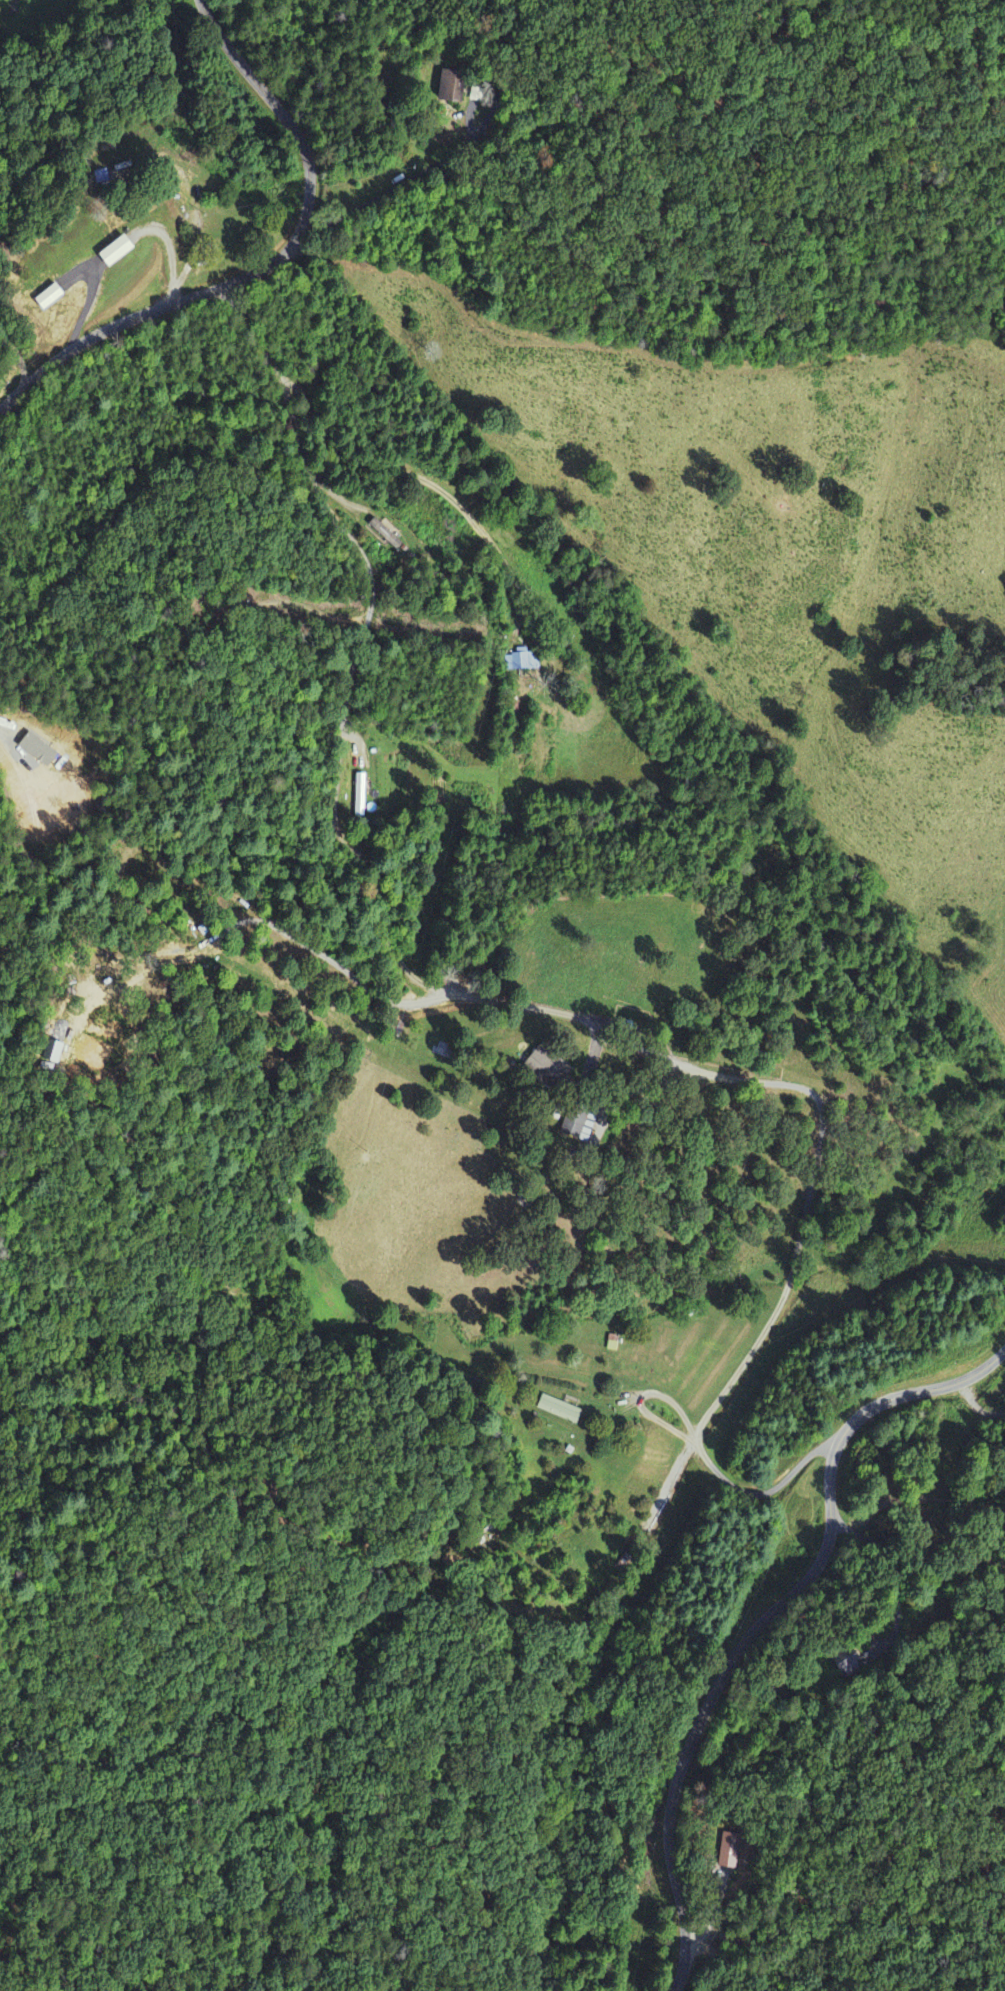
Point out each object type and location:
building: (449, 87)
building: (101, 177)
building: (112, 252)
road: (269, 264)
building: (46, 298)
building: (384, 534)
road: (360, 645)
building: (522, 661)
building: (359, 795)
building: (540, 1067)
building: (575, 1123)
road: (810, 1179)
building: (558, 1409)
road: (762, 1618)
building: (729, 1854)

